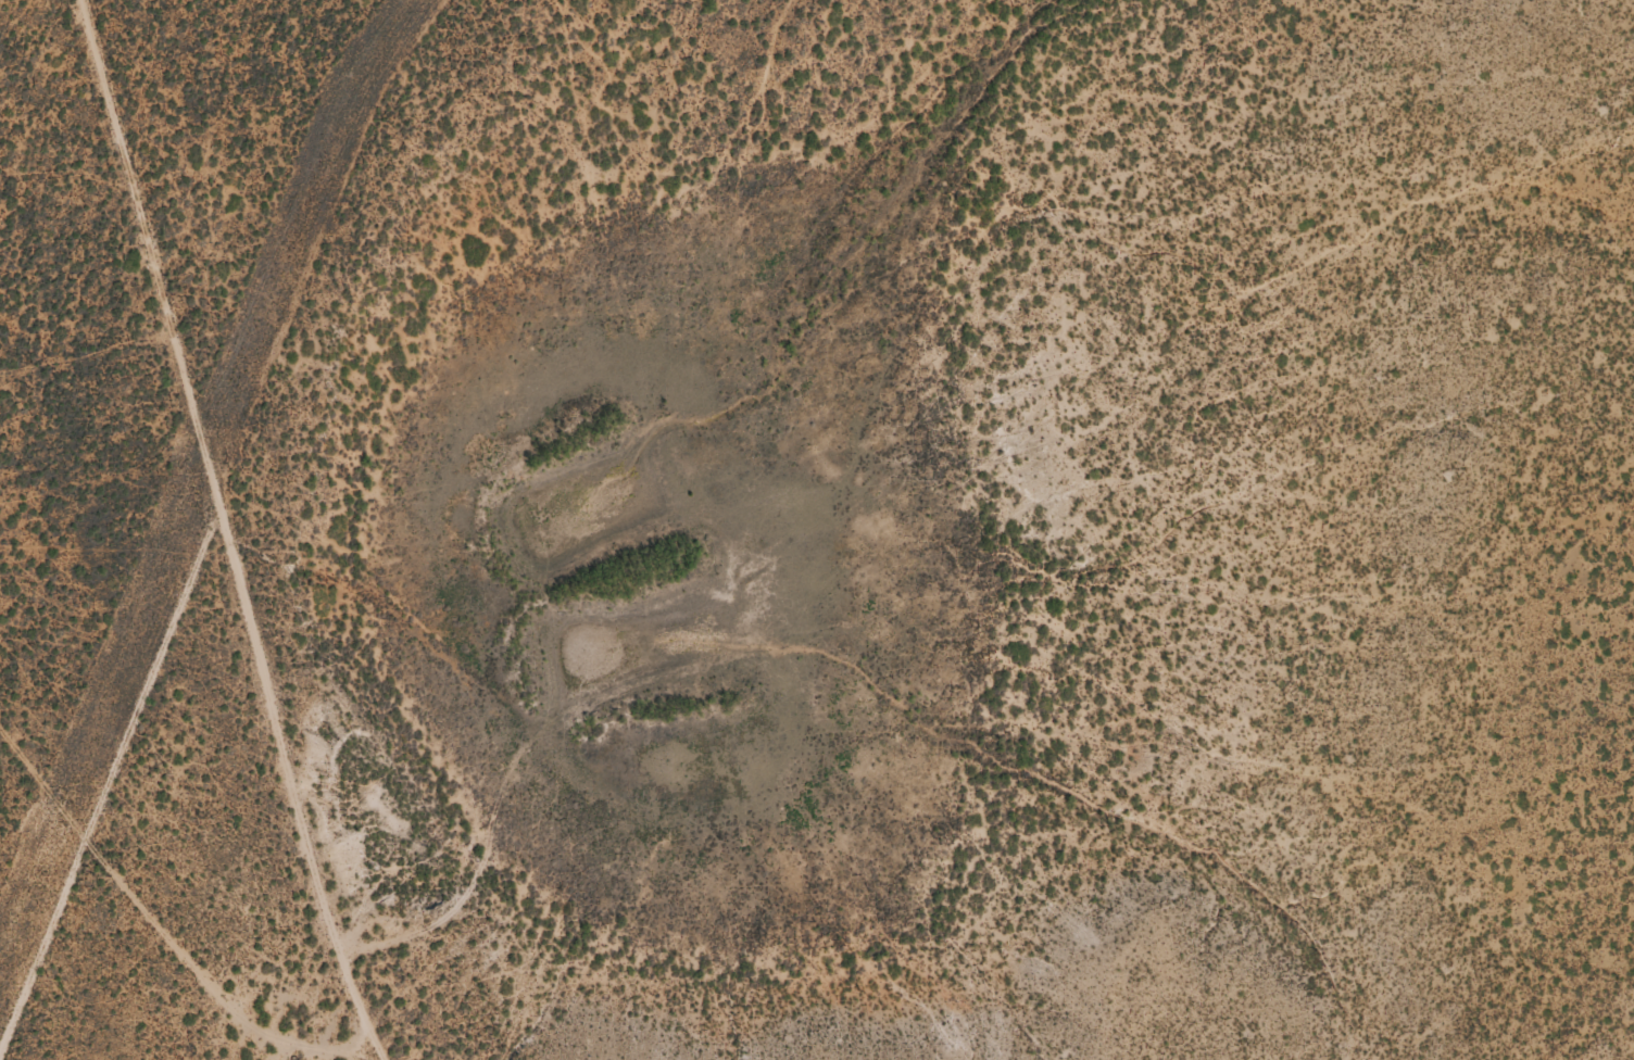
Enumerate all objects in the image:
road: (260, 530)

